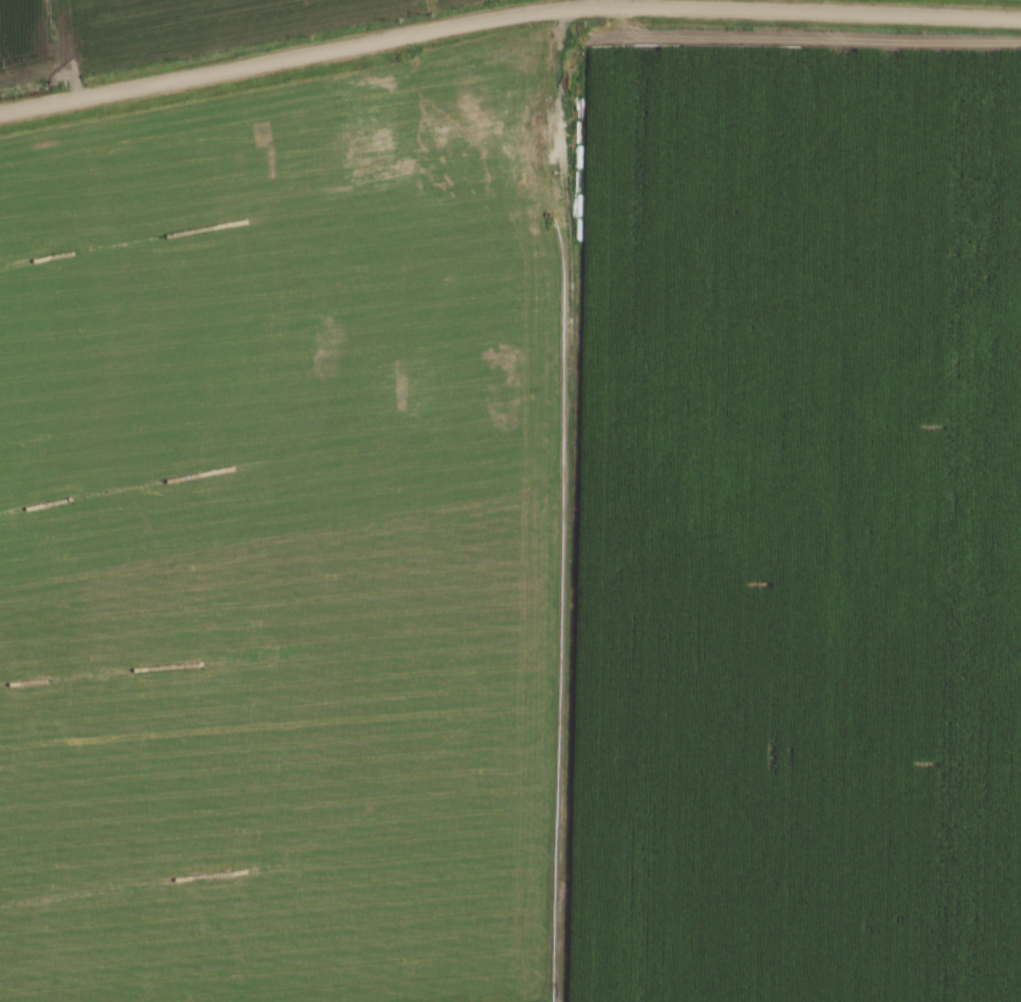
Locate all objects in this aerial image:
road: (506, 16)
crop: (163, 31)
road: (474, 131)
building: (462, 168)
building: (501, 237)
crop: (523, 550)

